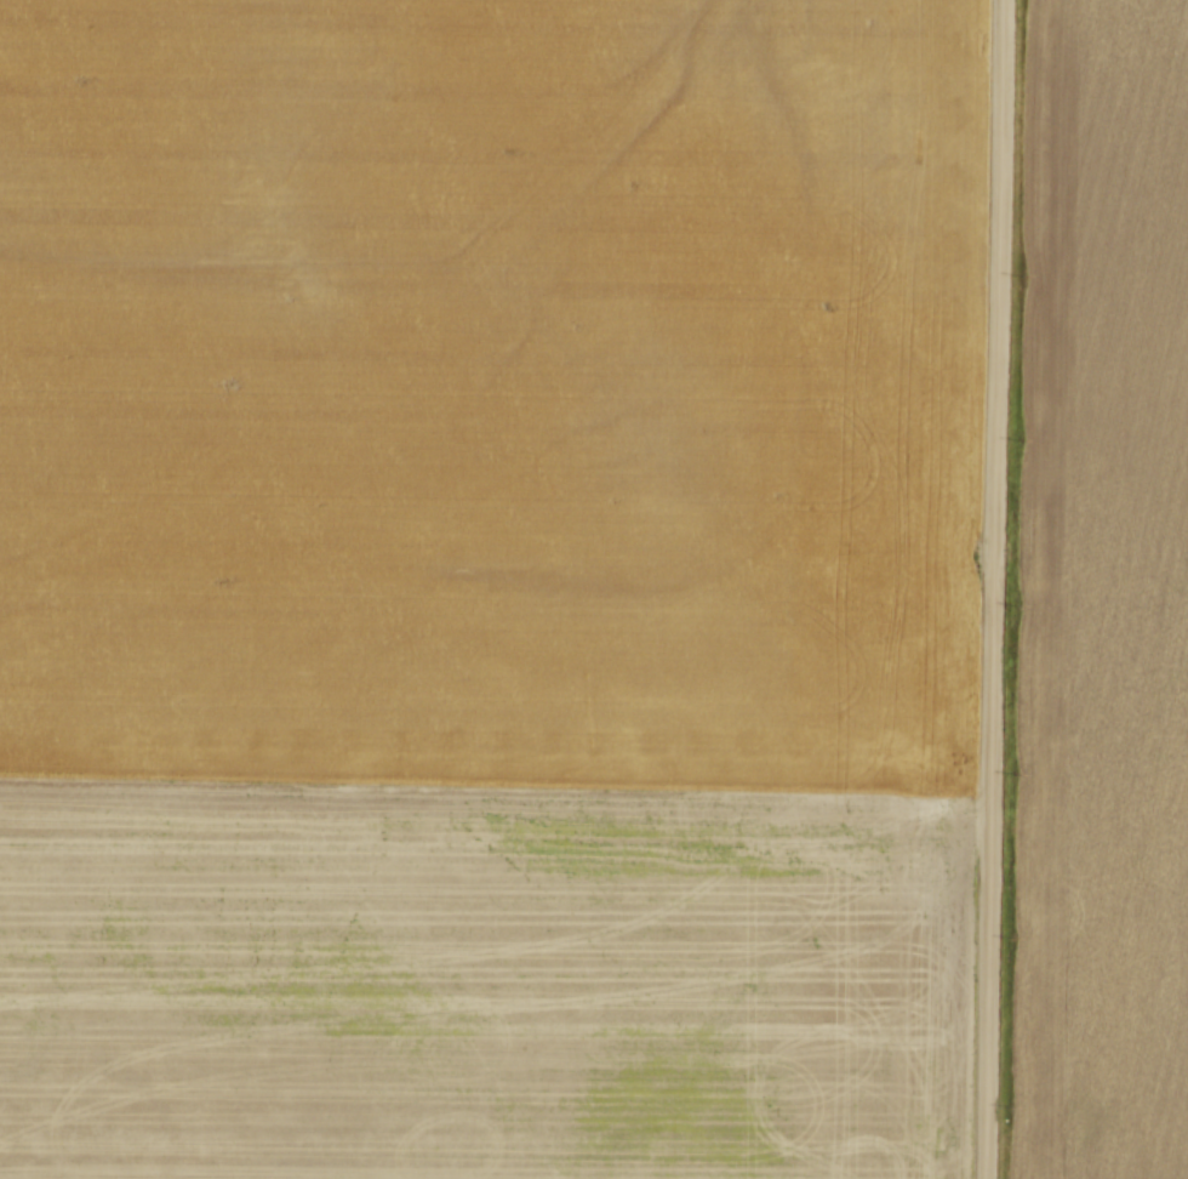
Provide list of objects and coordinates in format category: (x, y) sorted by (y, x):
crop: (485, 588)
road: (995, 588)
crop: (1106, 599)

